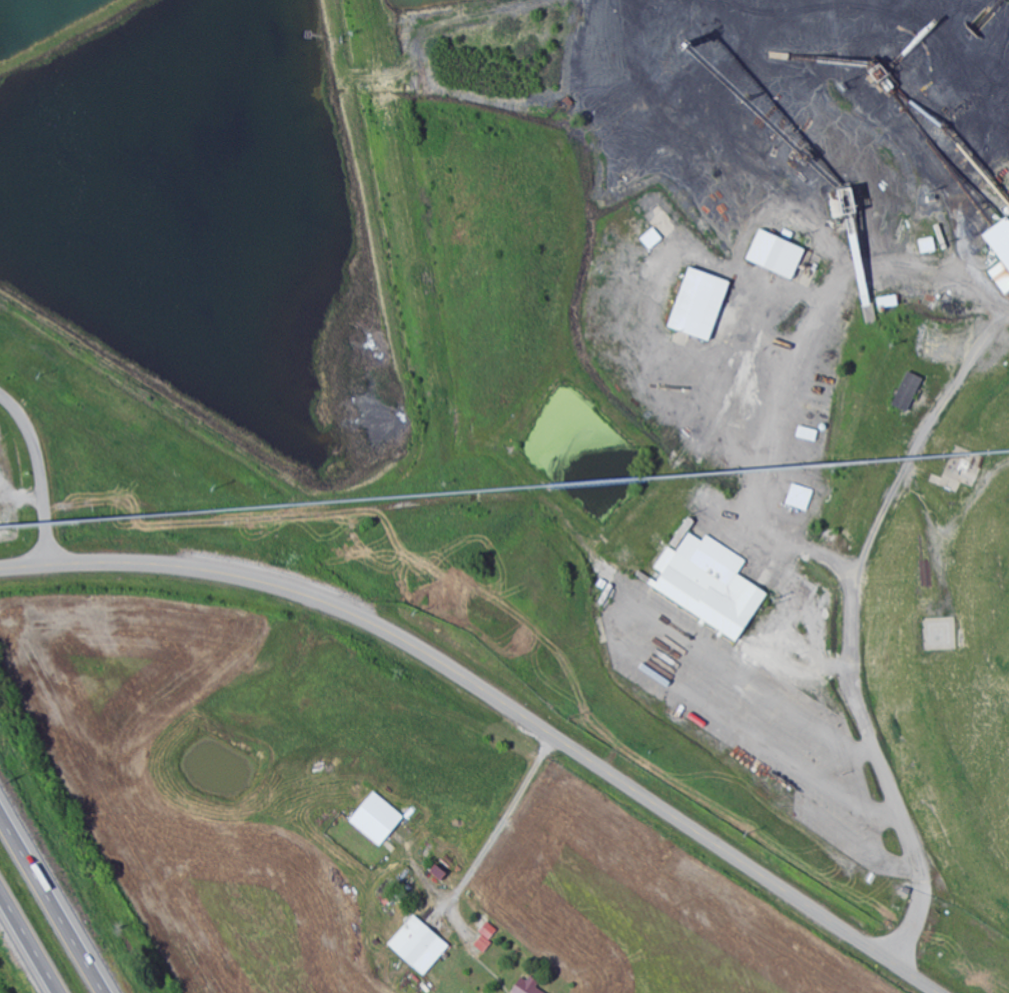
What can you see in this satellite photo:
building: (652, 239)
building: (928, 246)
building: (999, 253)
building: (776, 255)
building: (699, 305)
quarry: (737, 375)
building: (908, 392)
building: (808, 433)
road: (38, 471)
building: (800, 497)
building: (709, 583)
road: (851, 626)
road: (497, 700)
building: (376, 818)
road: (502, 822)
building: (392, 894)
road: (52, 902)
building: (482, 943)
road: (27, 944)
building: (418, 944)
building: (527, 986)

